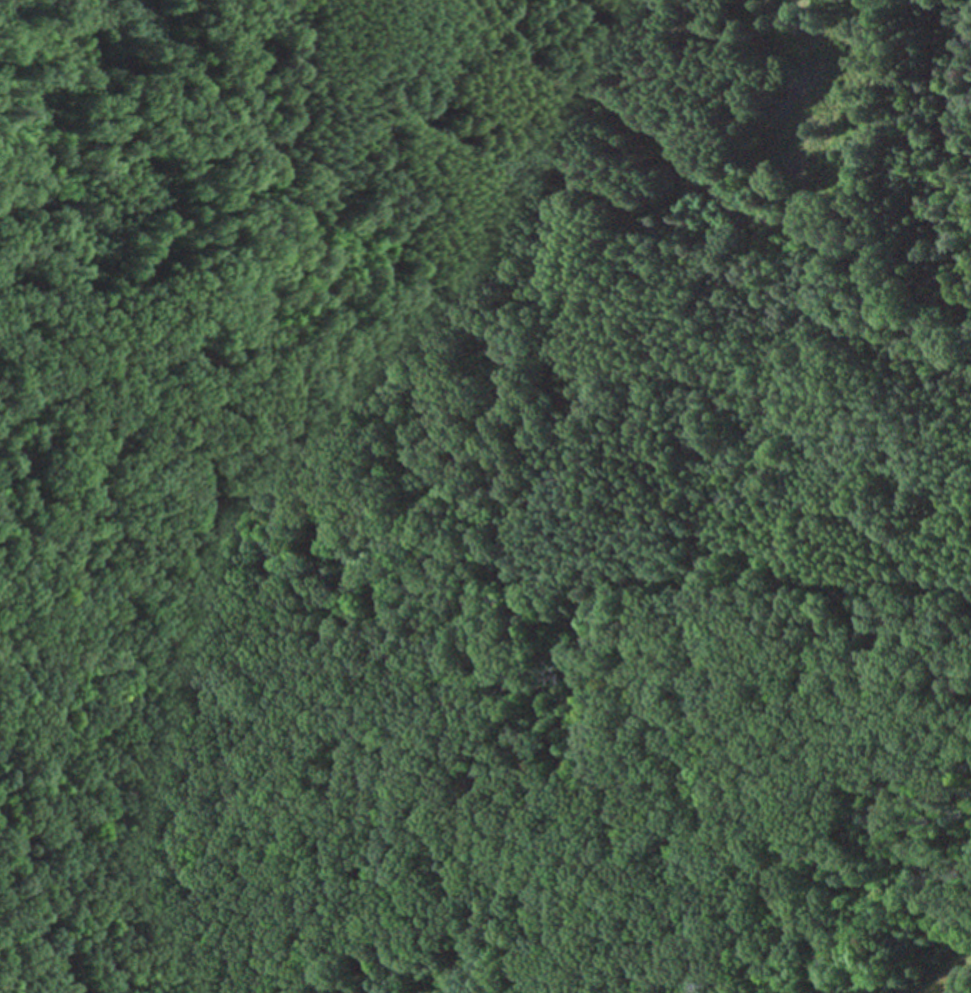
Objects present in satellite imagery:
road: (489, 19)
road: (720, 194)

